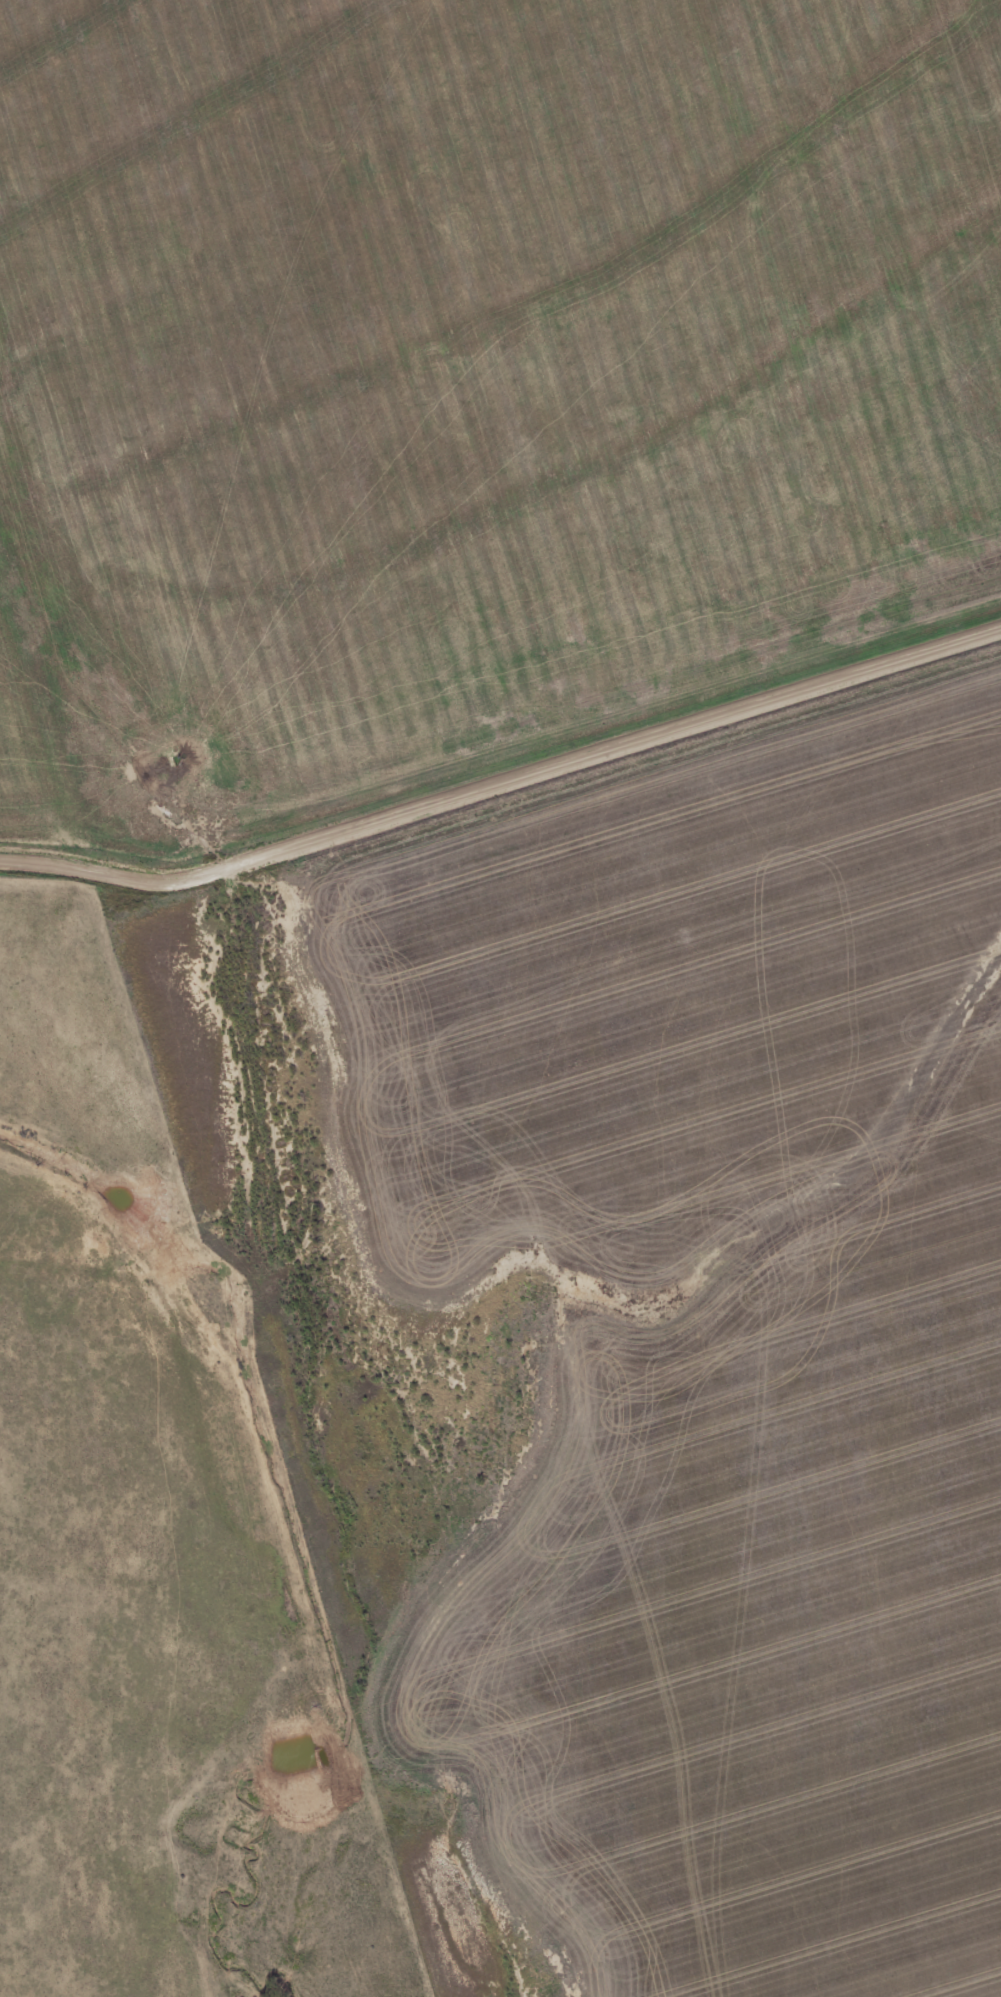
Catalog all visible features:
road: (504, 778)

